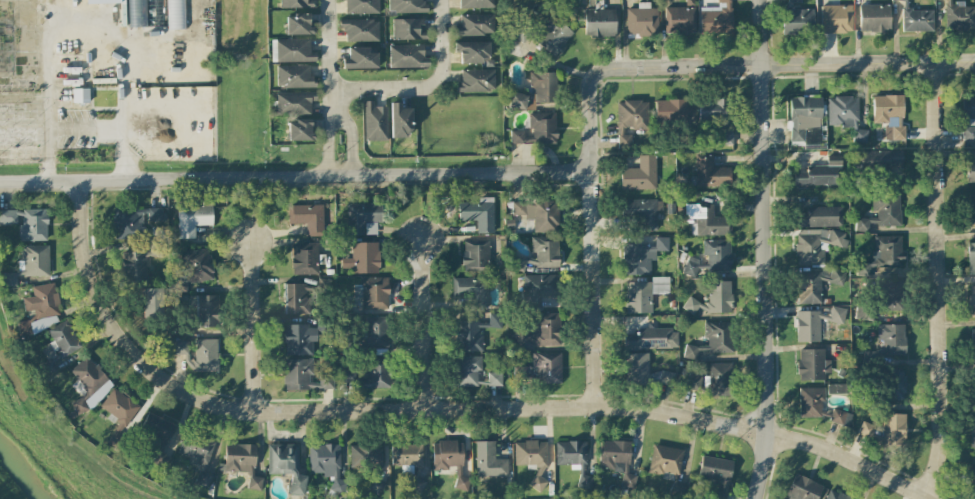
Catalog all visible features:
building: (339, 0)
building: (793, 1)
building: (476, 3)
building: (298, 4)
building: (362, 5)
building: (406, 6)
road: (75, 13)
building: (136, 13)
building: (175, 14)
building: (713, 16)
building: (959, 16)
building: (680, 17)
building: (874, 18)
building: (836, 19)
building: (916, 19)
building: (641, 21)
building: (797, 21)
building: (599, 22)
building: (300, 24)
building: (473, 25)
building: (408, 28)
building: (360, 29)
building: (520, 31)
building: (544, 33)
road: (328, 48)
building: (292, 49)
building: (472, 51)
building: (407, 56)
building: (360, 58)
road: (785, 62)
building: (295, 75)
building: (475, 80)
road: (425, 86)
building: (534, 91)
building: (79, 95)
building: (183, 100)
building: (294, 101)
road: (334, 103)
road: (335, 111)
building: (670, 111)
building: (845, 115)
building: (889, 115)
building: (717, 116)
building: (630, 118)
building: (968, 118)
road: (589, 119)
building: (400, 120)
building: (375, 121)
building: (806, 121)
building: (300, 128)
building: (537, 129)
road: (23, 159)
building: (878, 160)
building: (970, 172)
building: (710, 173)
building: (821, 174)
road: (295, 175)
building: (640, 175)
building: (971, 209)
building: (881, 212)
building: (642, 213)
building: (478, 214)
building: (539, 214)
building: (820, 216)
building: (7, 217)
building: (193, 218)
building: (307, 218)
building: (363, 218)
building: (133, 219)
building: (706, 220)
building: (33, 225)
building: (816, 245)
road: (765, 250)
building: (545, 252)
building: (883, 254)
building: (475, 255)
building: (642, 256)
building: (711, 257)
building: (304, 258)
building: (363, 258)
building: (971, 258)
building: (33, 260)
building: (139, 261)
building: (194, 268)
building: (9, 279)
road: (939, 279)
building: (815, 284)
building: (538, 289)
road: (593, 289)
building: (471, 290)
building: (375, 293)
building: (643, 294)
building: (890, 295)
building: (713, 299)
building: (296, 300)
building: (972, 301)
building: (152, 302)
building: (40, 309)
building: (207, 311)
building: (815, 323)
road: (422, 325)
road: (252, 330)
building: (376, 332)
building: (473, 332)
building: (543, 332)
building: (650, 338)
building: (299, 339)
building: (712, 340)
building: (889, 341)
building: (59, 343)
building: (973, 345)
building: (200, 354)
building: (812, 365)
building: (541, 368)
building: (467, 370)
building: (644, 371)
building: (347, 372)
building: (376, 373)
building: (303, 376)
building: (494, 379)
building: (721, 380)
building: (692, 383)
building: (896, 383)
building: (88, 385)
building: (836, 389)
building: (810, 402)
building: (118, 407)
road: (437, 409)
building: (840, 417)
building: (886, 430)
building: (972, 432)
building: (158, 439)
building: (406, 455)
building: (365, 456)
building: (532, 459)
building: (573, 459)
building: (449, 460)
building: (617, 460)
building: (665, 460)
building: (489, 461)
building: (241, 462)
building: (326, 464)
building: (286, 465)
building: (972, 468)
river: (24, 471)
building: (716, 474)
building: (677, 489)
building: (803, 489)
building: (834, 495)

